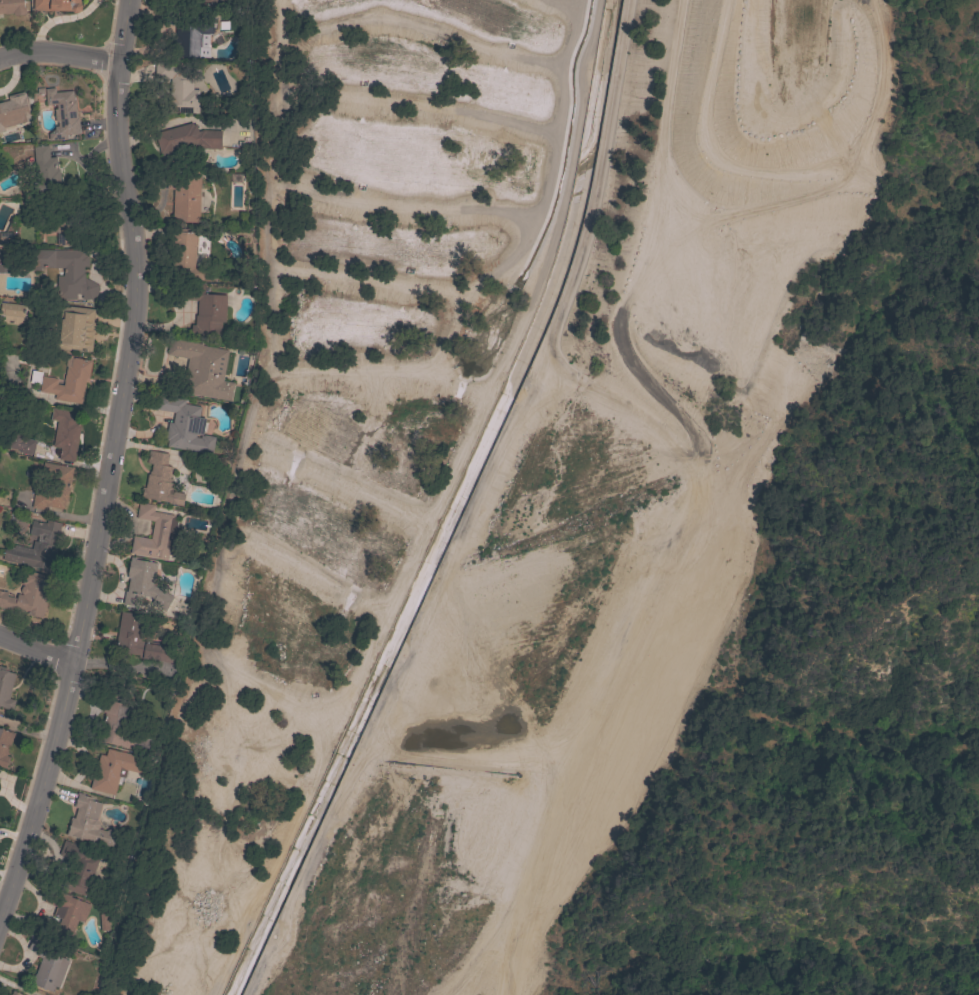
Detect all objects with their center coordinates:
building: (209, 0)
building: (56, 5)
building: (11, 7)
building: (192, 33)
road: (59, 51)
building: (178, 87)
building: (14, 110)
building: (62, 113)
building: (185, 140)
road: (87, 165)
building: (44, 169)
building: (186, 198)
building: (63, 229)
building: (6, 237)
building: (186, 256)
building: (73, 275)
building: (205, 311)
building: (75, 329)
building: (203, 371)
building: (33, 379)
building: (68, 382)
building: (183, 424)
building: (66, 433)
building: (20, 442)
road: (110, 462)
building: (160, 480)
building: (54, 486)
road: (677, 500)
road: (437, 507)
road: (470, 507)
building: (154, 532)
building: (36, 546)
building: (143, 584)
building: (29, 594)
building: (139, 639)
road: (36, 647)
building: (6, 688)
building: (121, 728)
building: (4, 746)
building: (116, 769)
building: (90, 823)
building: (79, 865)
building: (66, 911)
building: (104, 921)
road: (476, 955)
building: (47, 965)
building: (15, 993)

